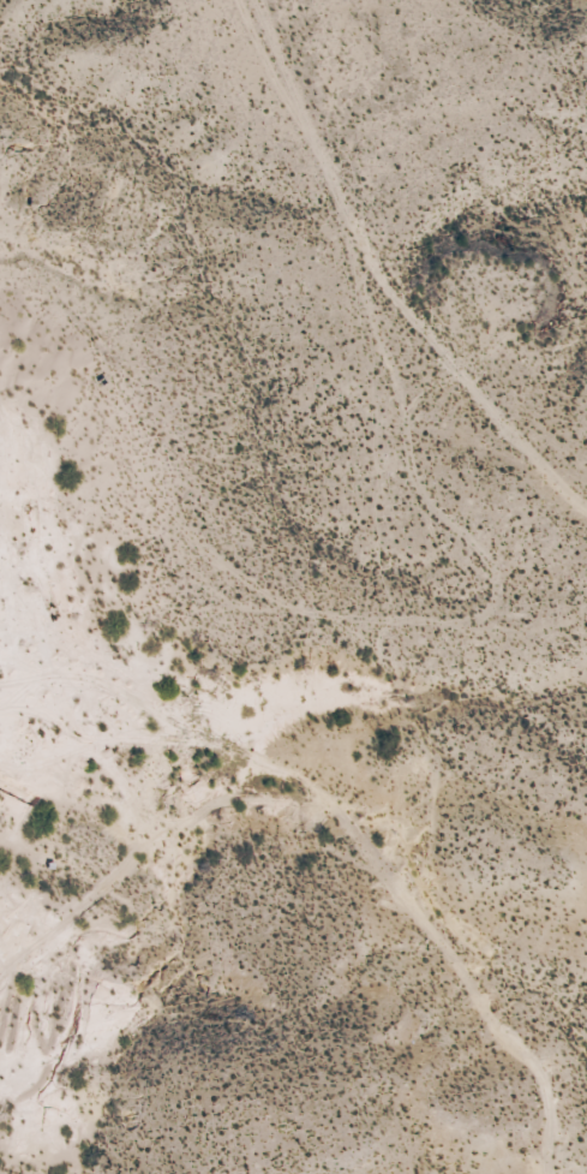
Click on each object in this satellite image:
road: (391, 282)

